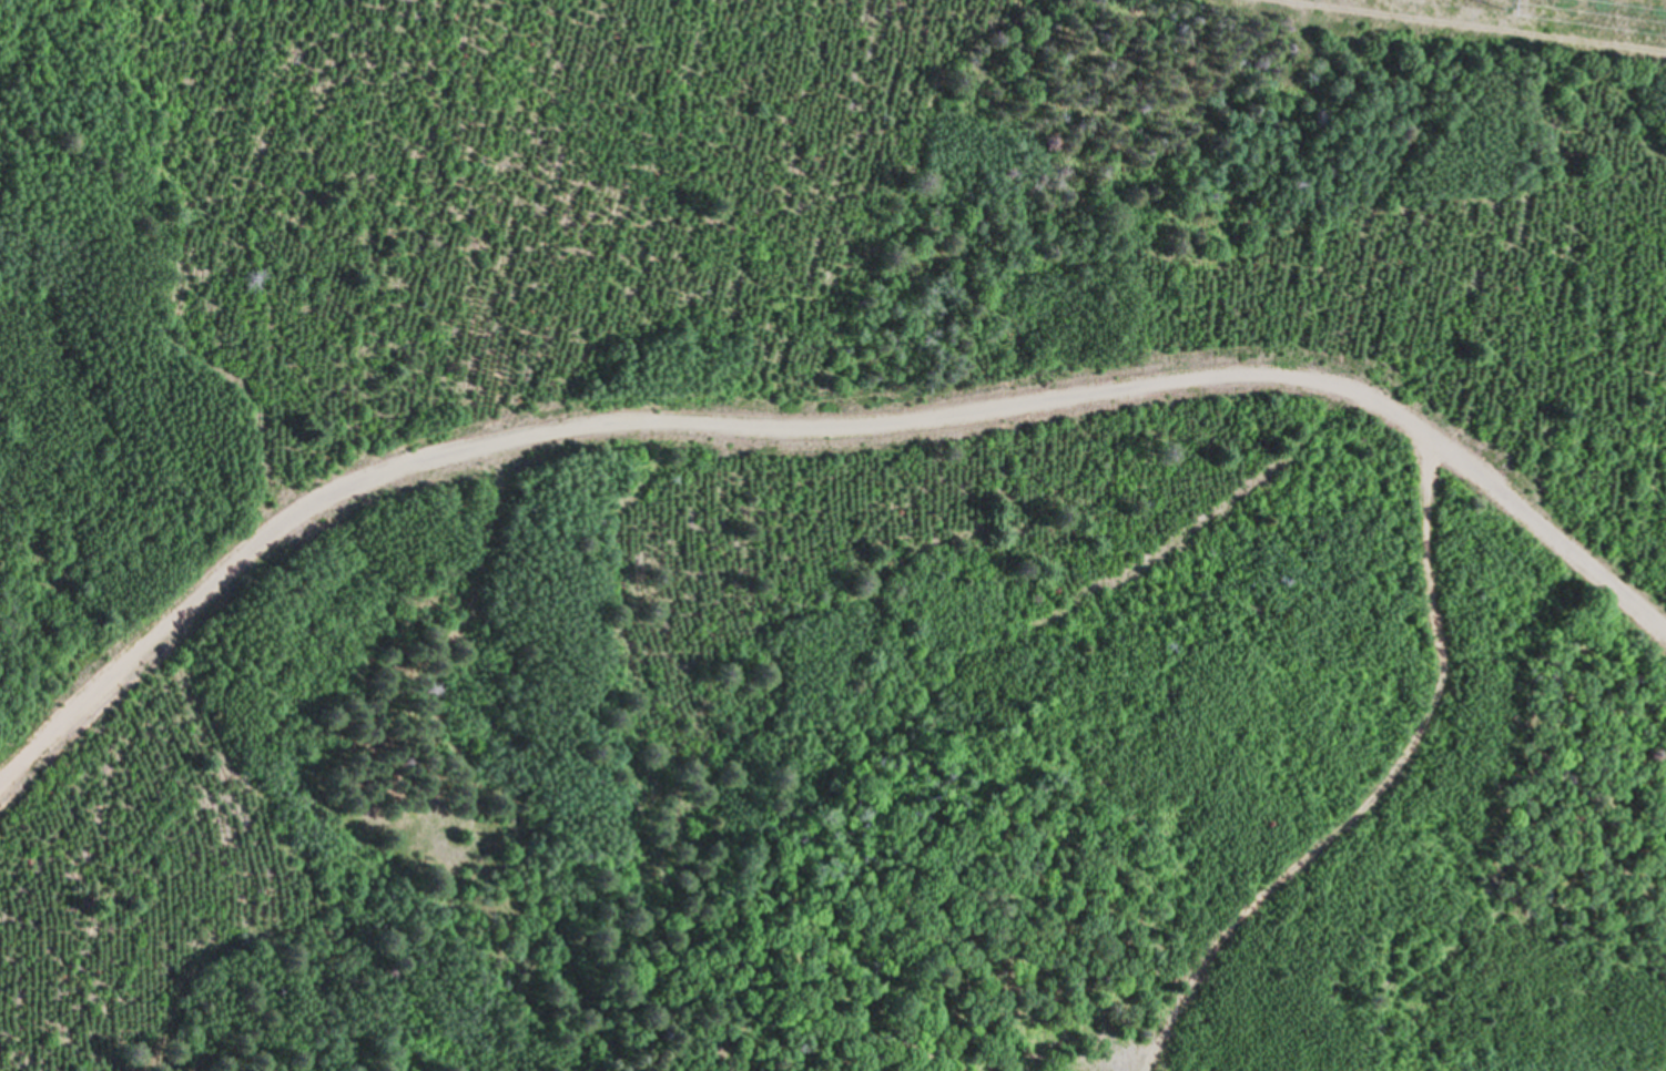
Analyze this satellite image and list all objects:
power tower: (1491, 1)
road: (820, 430)
road: (1373, 794)

